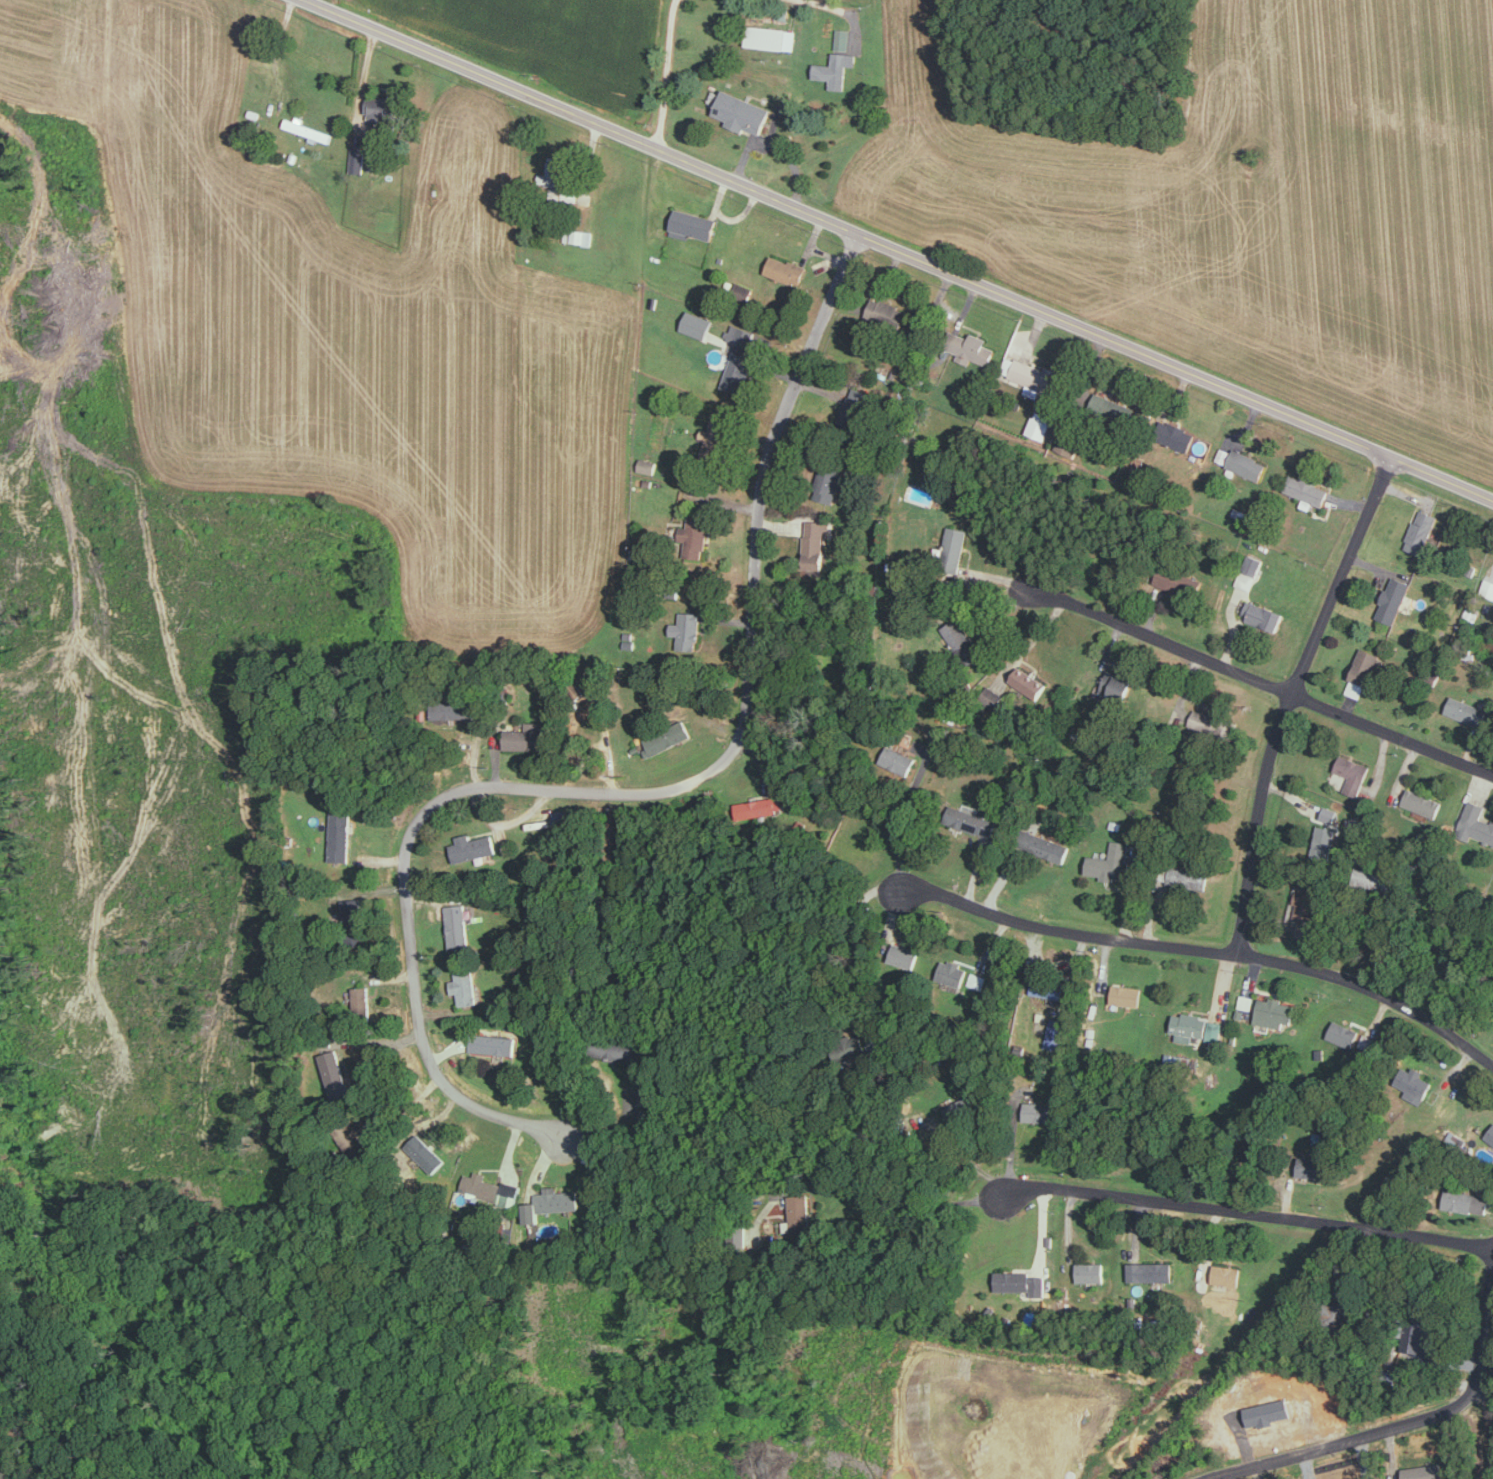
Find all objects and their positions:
road: (831, 6)
building: (772, 36)
building: (841, 37)
building: (835, 69)
road: (665, 73)
building: (384, 107)
building: (743, 111)
building: (309, 129)
building: (357, 157)
building: (554, 171)
building: (693, 224)
building: (578, 235)
road: (898, 249)
building: (785, 268)
building: (882, 308)
building: (697, 323)
building: (740, 334)
building: (974, 348)
building: (738, 371)
building: (1035, 375)
building: (856, 407)
building: (1041, 424)
building: (1177, 435)
building: (712, 439)
building: (1067, 444)
building: (1249, 464)
building: (647, 465)
building: (829, 485)
building: (1308, 490)
building: (1422, 530)
building: (696, 535)
building: (816, 543)
building: (955, 543)
building: (1249, 571)
building: (1180, 581)
building: (1488, 586)
building: (1394, 599)
building: (1264, 615)
building: (690, 629)
road: (1161, 638)
building: (965, 641)
building: (1364, 671)
building: (1029, 682)
building: (1114, 684)
road: (1290, 698)
building: (458, 710)
building: (1468, 710)
building: (1209, 722)
road: (1393, 732)
building: (529, 737)
building: (667, 737)
building: (900, 760)
building: (1353, 773)
road: (638, 788)
building: (1424, 803)
building: (759, 806)
building: (1330, 814)
building: (564, 818)
building: (973, 821)
building: (1476, 822)
road: (900, 826)
building: (340, 836)
building: (1325, 842)
building: (1048, 846)
building: (472, 847)
building: (1111, 862)
building: (1191, 879)
building: (1383, 879)
building: (1311, 902)
building: (350, 908)
building: (457, 926)
building: (1308, 930)
road: (861, 933)
road: (1206, 951)
building: (902, 954)
building: (951, 972)
building: (975, 979)
building: (465, 986)
building: (1049, 987)
building: (1127, 994)
building: (359, 997)
building: (1246, 1001)
building: (1276, 1012)
building: (1197, 1026)
building: (1340, 1032)
building: (1057, 1033)
building: (493, 1043)
building: (617, 1049)
building: (333, 1074)
building: (1415, 1084)
building: (646, 1095)
building: (1040, 1111)
building: (1489, 1134)
building: (426, 1154)
road: (967, 1159)
building: (1314, 1167)
building: (480, 1185)
building: (1468, 1201)
building: (552, 1203)
road: (903, 1203)
road: (1247, 1213)
building: (797, 1214)
building: (1151, 1271)
building: (1091, 1272)
building: (1227, 1274)
building: (1020, 1283)
building: (1425, 1343)
road: (1481, 1368)
road: (36, 1416)
road: (1359, 1435)
building: (1425, 1471)
road: (1492, 1474)

